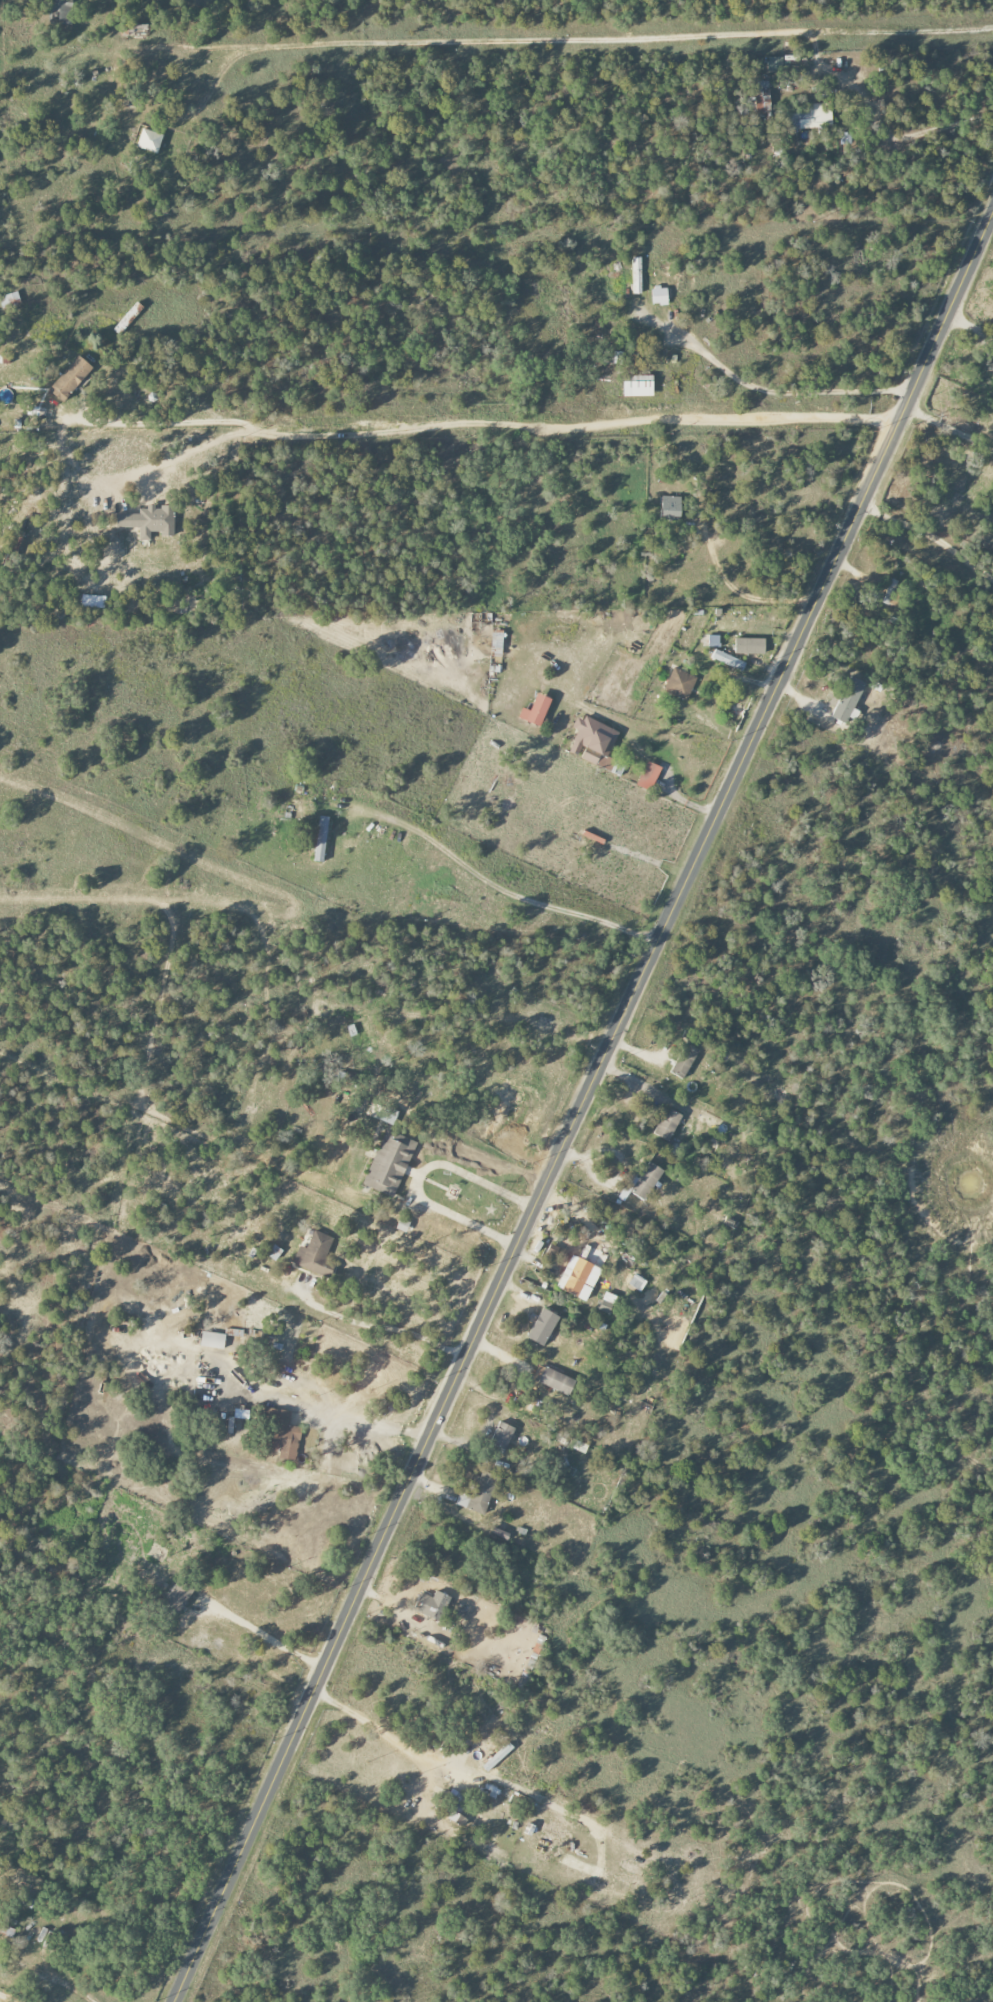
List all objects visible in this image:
building: (59, 10)
road: (584, 38)
building: (775, 64)
building: (762, 100)
building: (810, 117)
building: (149, 141)
building: (637, 275)
building: (659, 296)
building: (70, 379)
building: (637, 387)
road: (786, 392)
road: (482, 425)
road: (949, 427)
road: (192, 451)
building: (671, 508)
building: (149, 521)
road: (931, 533)
road: (740, 594)
building: (93, 601)
building: (713, 641)
building: (749, 646)
building: (728, 660)
road: (634, 669)
building: (679, 684)
building: (849, 701)
road: (538, 706)
building: (535, 711)
building: (594, 742)
building: (648, 777)
road: (823, 789)
road: (877, 796)
building: (321, 838)
road: (466, 884)
building: (683, 1060)
road: (581, 1107)
building: (667, 1124)
building: (389, 1164)
road: (420, 1178)
building: (641, 1183)
building: (402, 1225)
building: (314, 1253)
building: (578, 1278)
building: (637, 1283)
building: (607, 1304)
building: (542, 1327)
road: (383, 1328)
building: (212, 1340)
building: (553, 1380)
building: (502, 1435)
building: (284, 1436)
building: (579, 1446)
building: (177, 1598)
building: (433, 1606)
road: (267, 1637)
road: (464, 1779)
road: (65, 1984)
road: (5, 1999)

